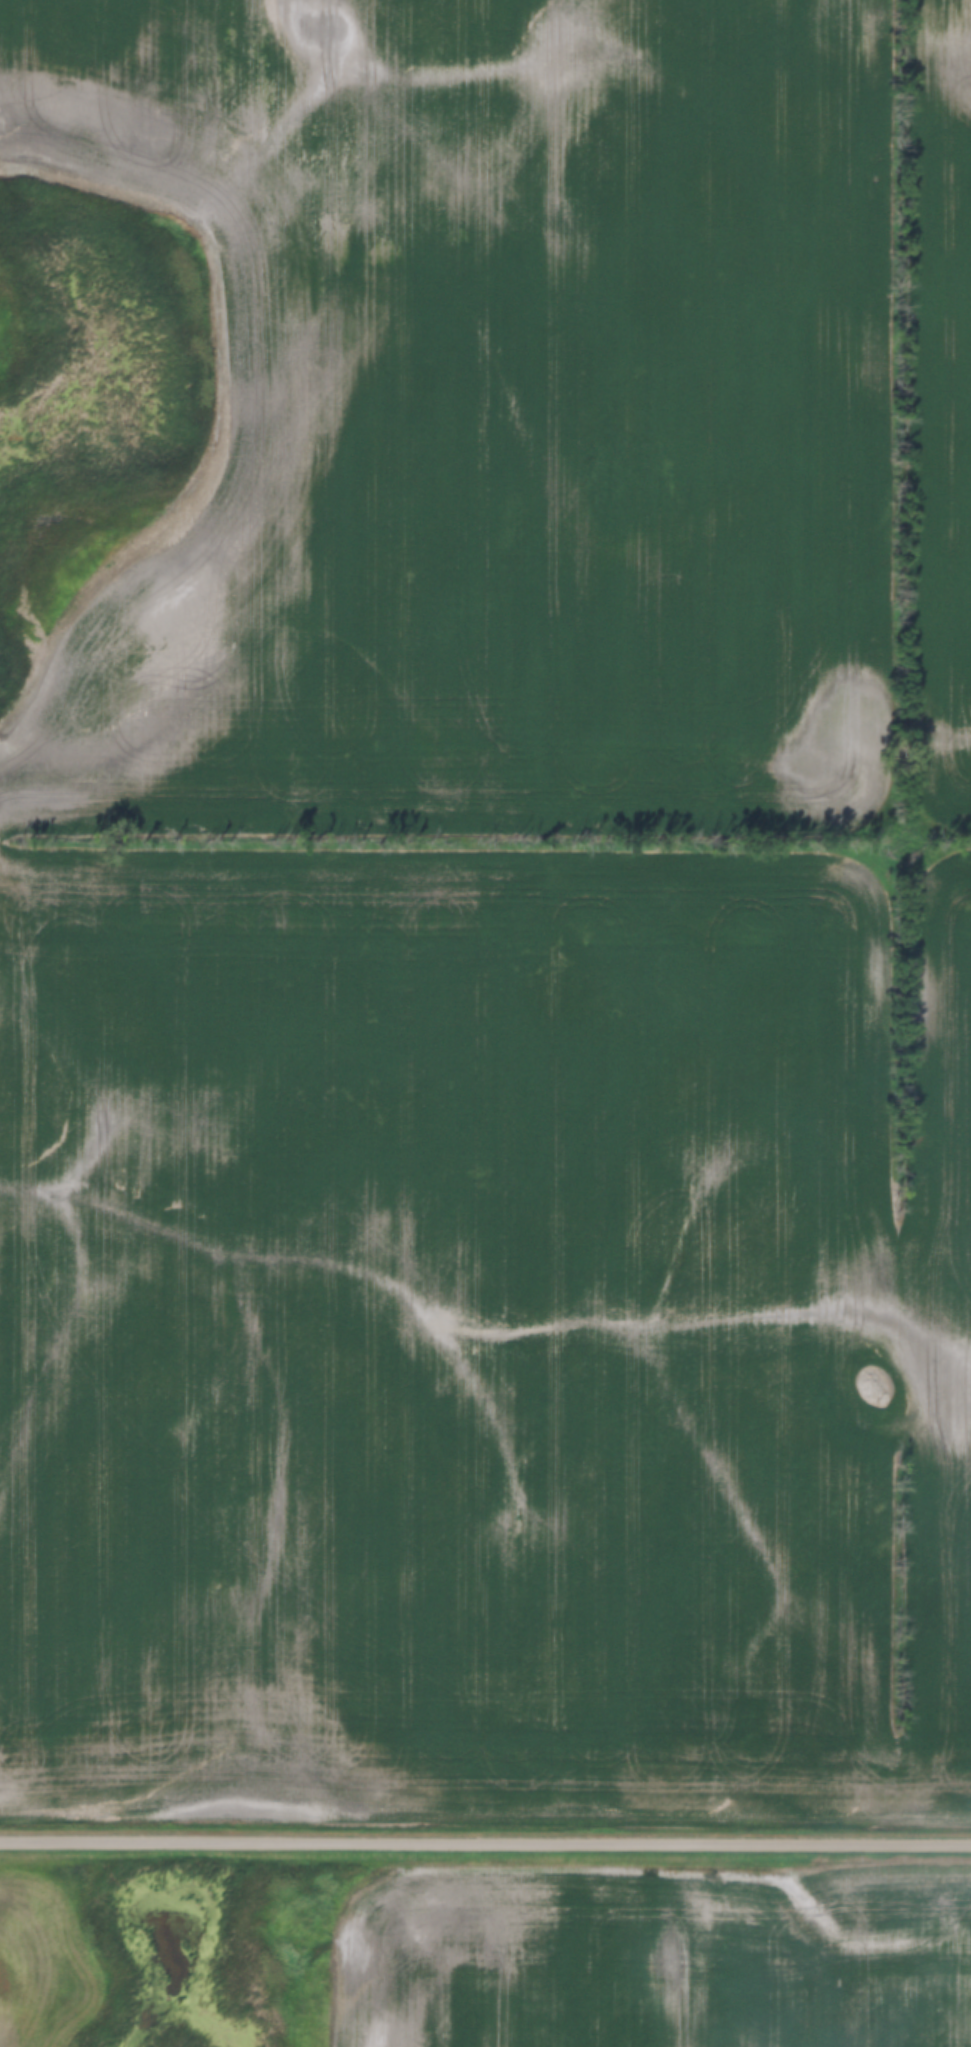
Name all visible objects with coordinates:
road: (485, 1846)

